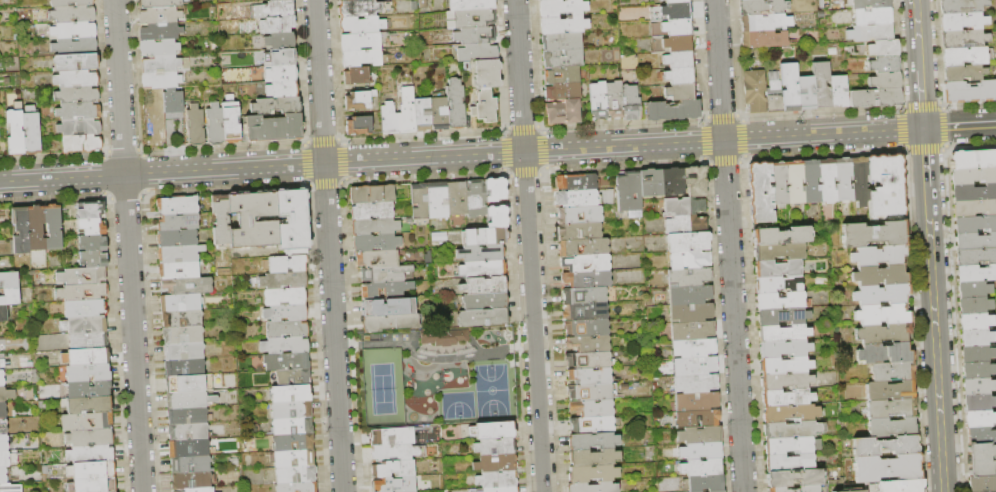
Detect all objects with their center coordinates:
building: (279, 0)
building: (348, 0)
building: (547, 0)
building: (740, 0)
building: (677, 1)
building: (70, 3)
building: (161, 3)
building: (423, 4)
building: (821, 4)
building: (867, 4)
building: (472, 5)
building: (413, 6)
building: (961, 6)
building: (762, 7)
building: (362, 8)
building: (562, 8)
building: (273, 10)
building: (672, 12)
building: (72, 14)
building: (160, 16)
building: (873, 16)
building: (470, 19)
building: (962, 21)
building: (765, 23)
building: (277, 25)
building: (361, 25)
building: (563, 25)
building: (676, 27)
building: (74, 30)
building: (161, 32)
building: (870, 33)
road: (917, 34)
building: (476, 36)
building: (963, 39)
building: (766, 40)
building: (280, 41)
building: (562, 41)
building: (360, 42)
building: (678, 43)
building: (75, 46)
building: (159, 47)
building: (884, 48)
building: (832, 52)
building: (478, 53)
building: (965, 56)
building: (280, 57)
building: (361, 58)
building: (563, 58)
building: (680, 60)
building: (75, 62)
building: (165, 64)
building: (885, 64)
building: (467, 67)
building: (963, 72)
building: (280, 74)
building: (488, 74)
building: (680, 75)
building: (357, 76)
building: (562, 76)
building: (76, 80)
building: (161, 80)
building: (886, 81)
building: (821, 84)
building: (790, 88)
building: (282, 90)
building: (681, 91)
building: (755, 91)
building: (839, 91)
building: (969, 91)
building: (563, 92)
building: (806, 93)
building: (774, 94)
building: (77, 95)
building: (875, 98)
road: (921, 98)
building: (360, 100)
building: (615, 100)
building: (598, 101)
building: (173, 102)
building: (631, 103)
building: (456, 105)
building: (276, 106)
road: (922, 106)
building: (485, 107)
building: (78, 111)
building: (673, 111)
building: (564, 112)
building: (407, 114)
building: (439, 114)
building: (423, 115)
building: (388, 119)
building: (231, 121)
building: (196, 125)
building: (215, 125)
building: (359, 125)
road: (946, 127)
road: (959, 127)
building: (79, 128)
building: (273, 128)
road: (900, 129)
traffic signals: (923, 129)
building: (15, 133)
building: (32, 133)
building: (82, 144)
road: (926, 150)
road: (829, 154)
road: (461, 155)
road: (924, 159)
building: (973, 159)
road: (727, 160)
road: (630, 164)
road: (526, 171)
building: (972, 175)
road: (432, 176)
building: (843, 179)
building: (826, 180)
building: (695, 181)
building: (810, 181)
building: (859, 181)
building: (576, 182)
building: (672, 182)
building: (794, 182)
building: (650, 183)
building: (778, 183)
building: (886, 188)
building: (495, 190)
building: (629, 191)
building: (973, 192)
building: (759, 193)
building: (372, 194)
building: (457, 199)
building: (476, 199)
building: (577, 199)
building: (437, 200)
building: (420, 201)
building: (178, 205)
building: (684, 207)
building: (974, 208)
building: (92, 211)
building: (372, 211)
building: (580, 215)
building: (497, 217)
building: (246, 219)
building: (220, 220)
building: (178, 222)
building: (293, 222)
building: (686, 224)
building: (974, 224)
building: (375, 226)
building: (92, 227)
building: (36, 228)
building: (52, 228)
building: (21, 231)
building: (580, 231)
building: (874, 235)
building: (781, 236)
building: (484, 237)
building: (177, 238)
building: (975, 241)
building: (688, 242)
building: (93, 243)
building: (376, 243)
road: (329, 245)
road: (729, 245)
road: (128, 246)
road: (529, 246)
building: (584, 247)
building: (779, 252)
building: (179, 253)
building: (481, 253)
building: (975, 256)
building: (879, 257)
building: (388, 259)
building: (690, 259)
building: (94, 260)
building: (586, 263)
building: (288, 264)
building: (777, 268)
building: (483, 269)
building: (179, 270)
building: (975, 273)
building: (385, 274)
building: (880, 276)
building: (82, 277)
building: (689, 277)
building: (587, 279)
building: (9, 280)
building: (284, 280)
building: (779, 284)
building: (187, 286)
building: (484, 286)
building: (973, 289)
building: (385, 291)
building: (82, 293)
building: (585, 295)
building: (689, 295)
building: (881, 295)
building: (10, 297)
building: (284, 297)
building: (485, 301)
building: (779, 301)
building: (180, 303)
building: (974, 304)
building: (388, 307)
building: (85, 309)
building: (585, 312)
building: (286, 313)
building: (692, 313)
building: (3, 314)
building: (884, 314)
building: (782, 317)
building: (483, 318)
building: (182, 319)
building: (975, 321)
building: (390, 323)
building: (84, 325)
building: (587, 328)
building: (287, 329)
building: (692, 331)
building: (883, 333)
building: (783, 334)
building: (182, 335)
building: (442, 336)
building: (976, 337)
road: (935, 340)
building: (88, 341)
building: (589, 344)
building: (285, 346)
building: (693, 348)
building: (784, 349)
road: (408, 350)
building: (184, 351)
road: (489, 352)
building: (977, 353)
building: (884, 354)
building: (86, 357)
building: (589, 360)
building: (286, 361)
building: (695, 366)
building: (785, 366)
building: (184, 367)
building: (977, 370)
building: (892, 371)
building: (88, 373)
building: (293, 377)
park: (439, 377)
building: (590, 377)
building: (2, 379)
building: (786, 381)
building: (185, 382)
building: (696, 383)
building: (978, 386)
park: (382, 387)
building: (89, 389)
park: (494, 389)
building: (849, 391)
building: (890, 391)
building: (593, 393)
building: (6, 394)
building: (291, 394)
building: (787, 398)
building: (189, 399)
building: (697, 400)
building: (978, 402)
building: (89, 405)
park: (458, 405)
building: (592, 409)
building: (891, 409)
building: (3, 410)
building: (291, 410)
building: (792, 414)
building: (187, 416)
building: (697, 418)
building: (979, 418)
building: (87, 422)
building: (592, 425)
building: (292, 426)
building: (3, 427)
building: (891, 428)
building: (794, 430)
building: (493, 431)
building: (188, 432)
building: (980, 434)
building: (699, 435)
building: (396, 436)
building: (90, 438)
building: (592, 441)
building: (4, 443)
building: (293, 443)
building: (791, 446)
building: (496, 447)
building: (885, 447)
building: (190, 448)
building: (701, 450)
building: (394, 453)
building: (89, 454)
building: (293, 458)
building: (593, 458)
building: (981, 459)
building: (4, 460)
building: (496, 463)
building: (790, 463)
building: (191, 464)
building: (702, 467)
building: (394, 469)
building: (887, 469)
building: (91, 470)
building: (593, 474)
building: (296, 475)
building: (3, 476)
building: (499, 478)
building: (795, 478)
building: (191, 481)
building: (704, 483)
building: (982, 484)
building: (93, 485)
building: (395, 485)
building: (899, 486)
building: (297, 487)
building: (593, 487)
building: (10, 488)
building: (810, 489)
building: (198, 490)
building: (499, 490)
building: (779, 490)
building: (719, 491)
building: (859, 491)
building: (991, 491)

